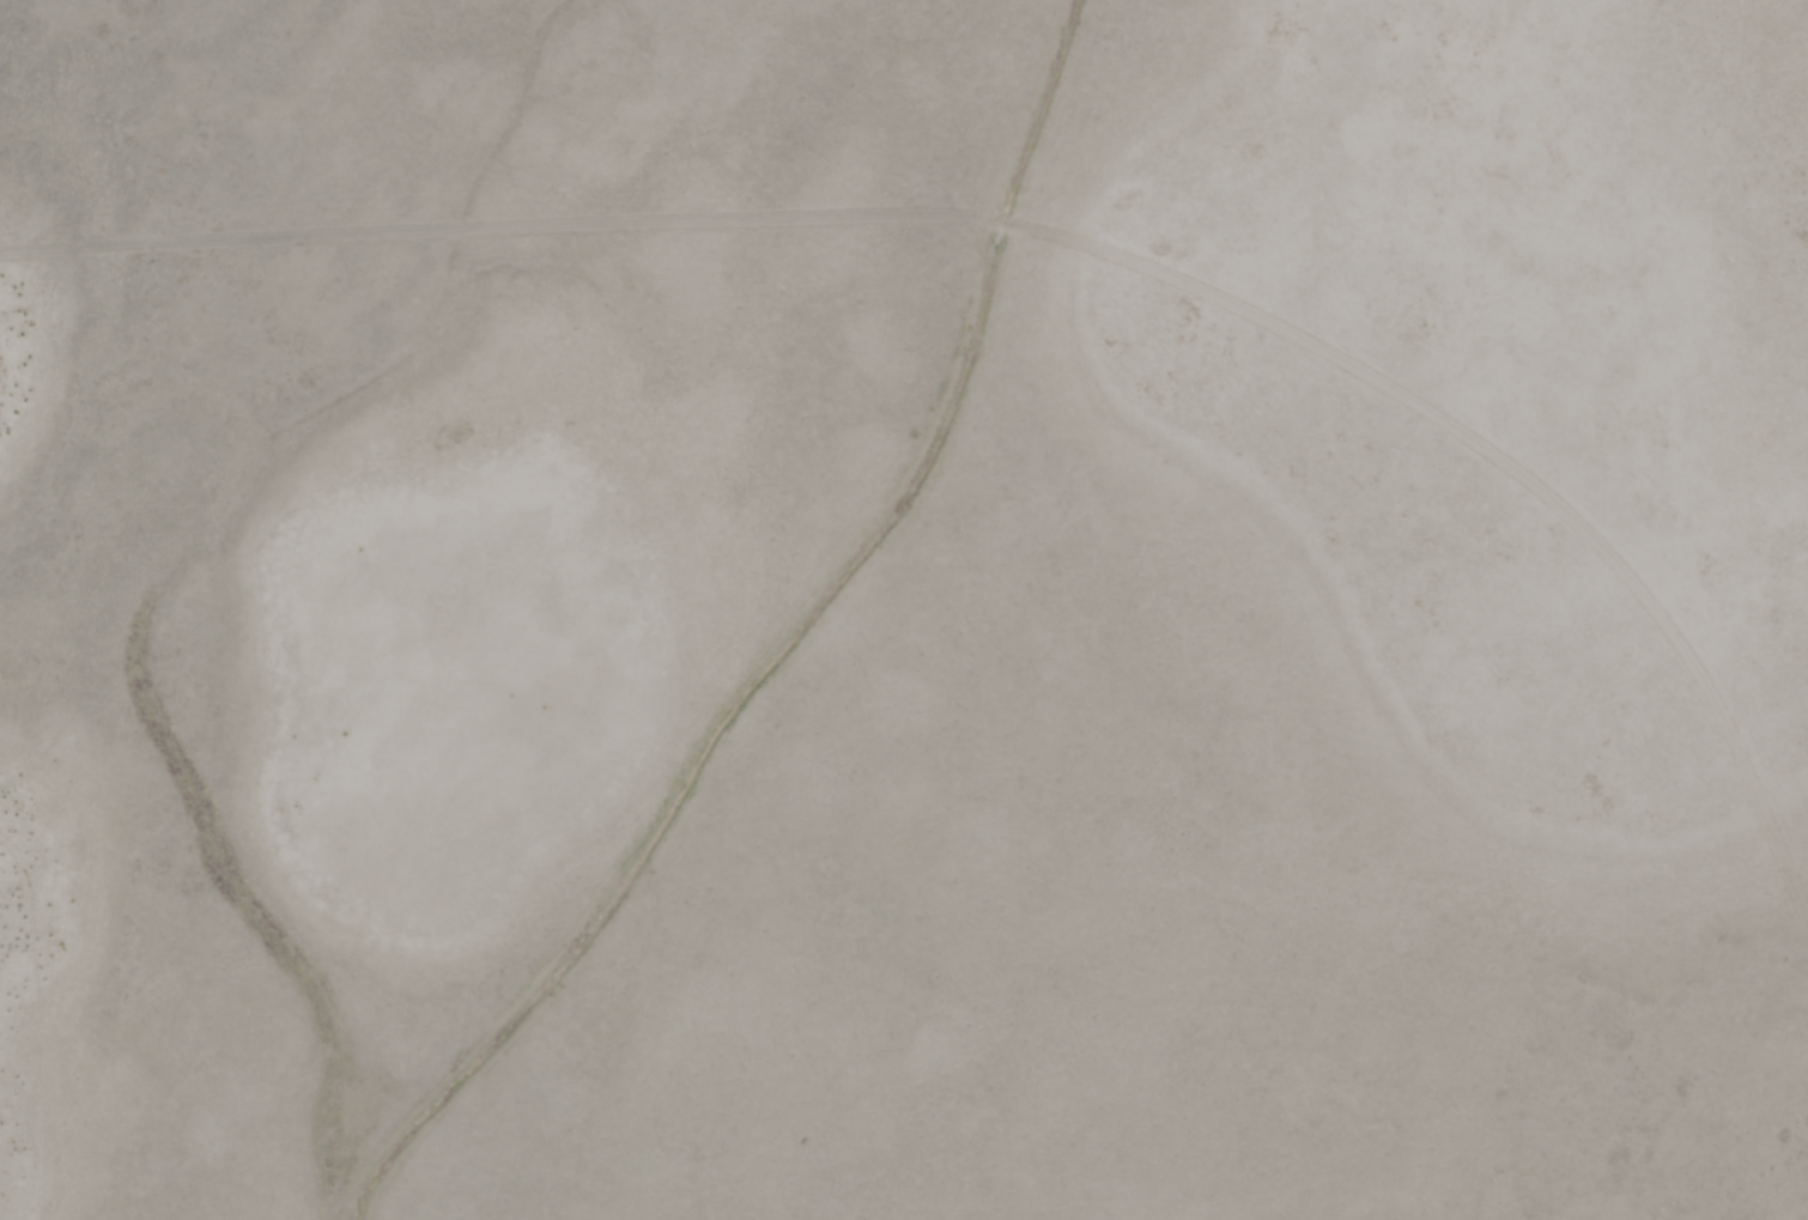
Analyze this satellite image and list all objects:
road: (1062, 239)

